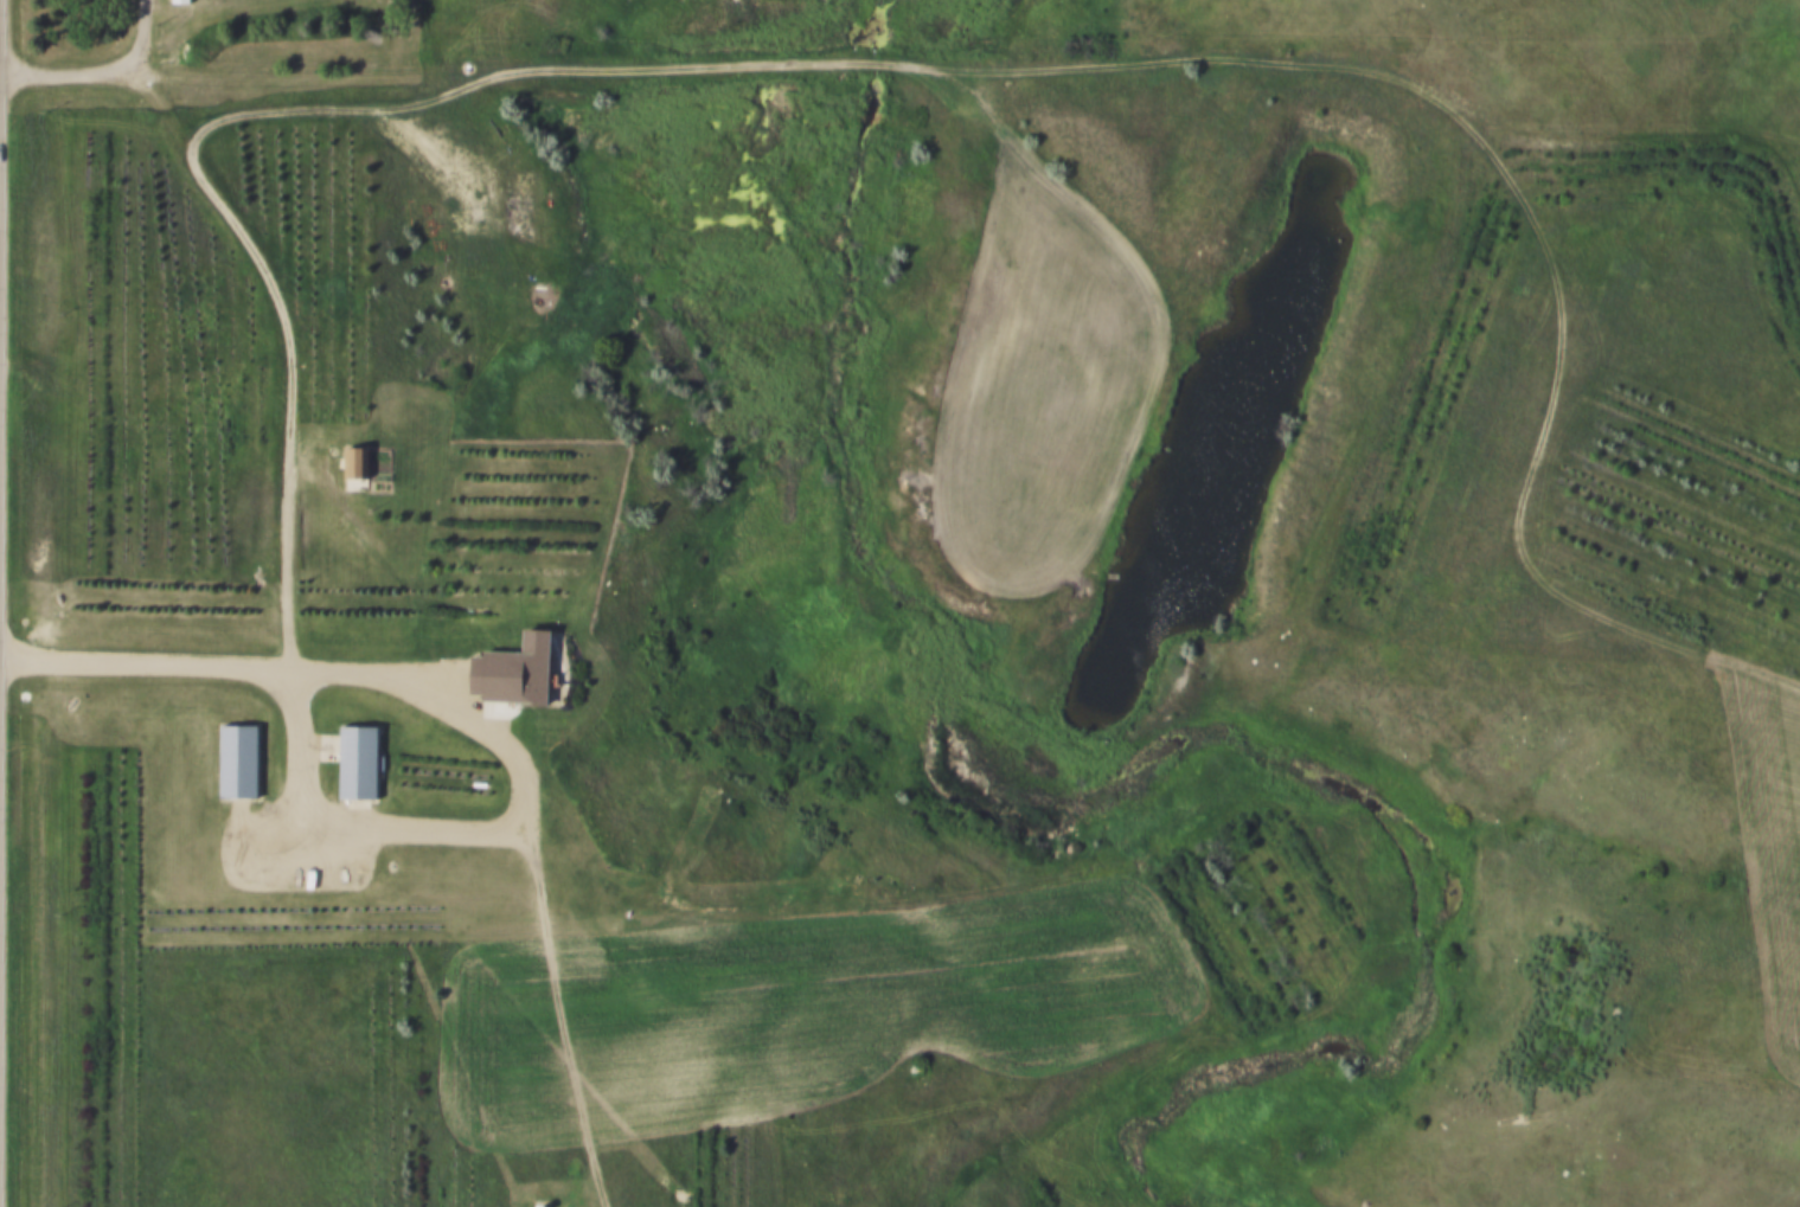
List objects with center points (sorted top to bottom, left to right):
road: (824, 69)
road: (98, 72)
road: (156, 99)
road: (989, 115)
road: (1639, 128)
road: (1506, 180)
road: (474, 353)
road: (290, 390)
building: (361, 457)
road: (379, 546)
road: (147, 663)
building: (526, 669)
building: (244, 757)
building: (364, 757)
road: (500, 820)
road: (559, 1004)

